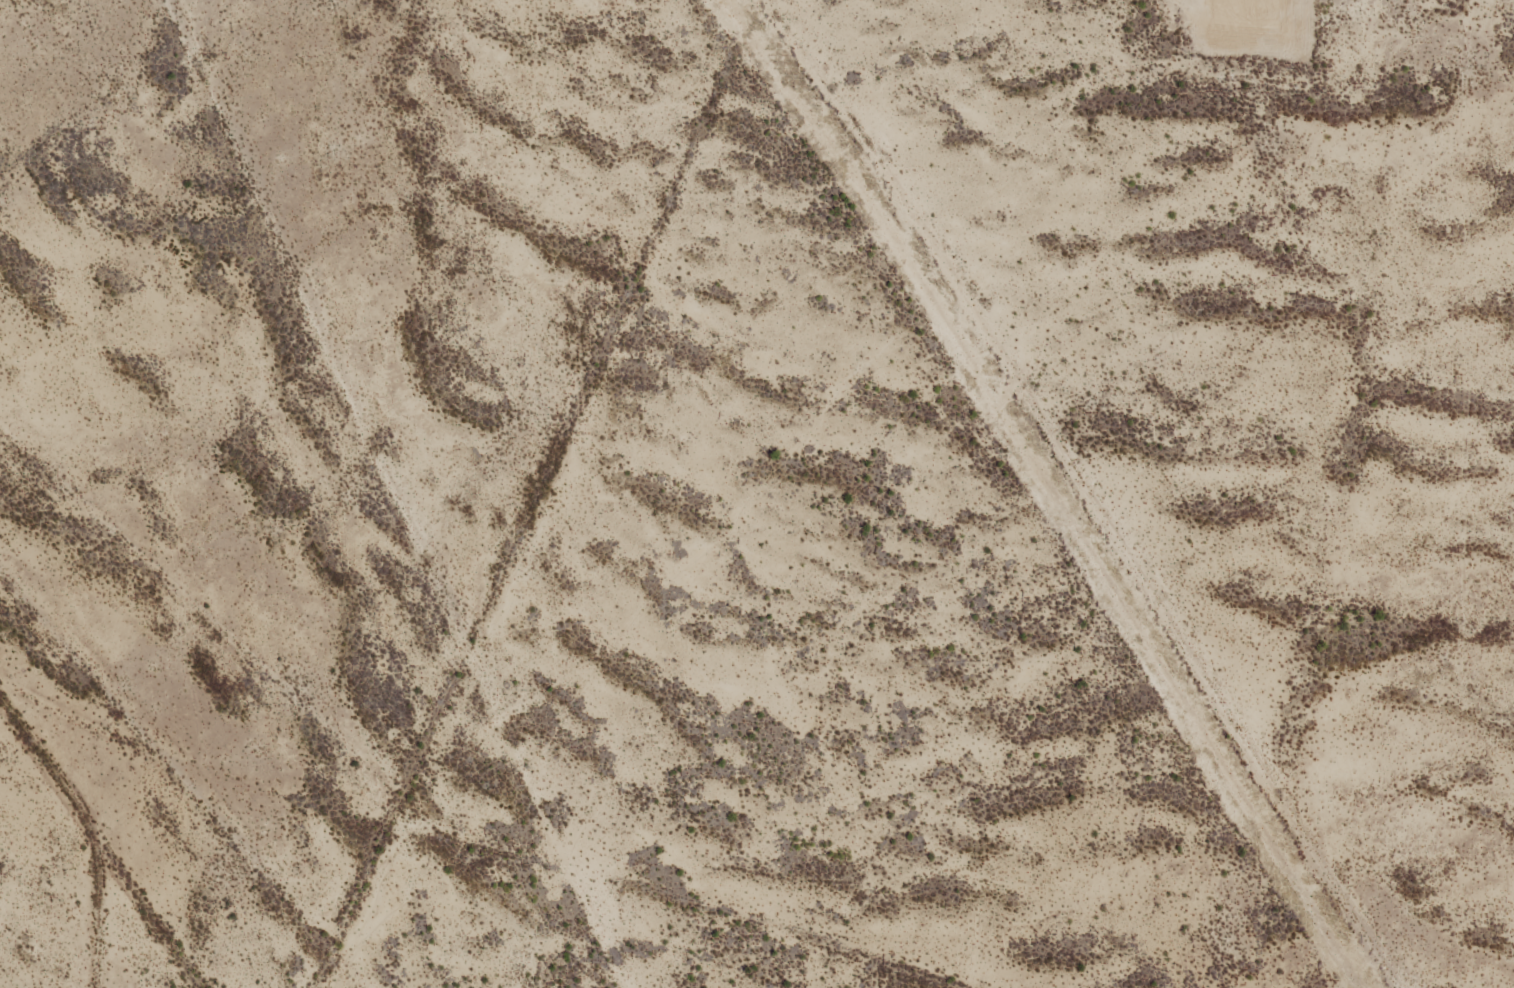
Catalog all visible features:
road: (82, 828)

